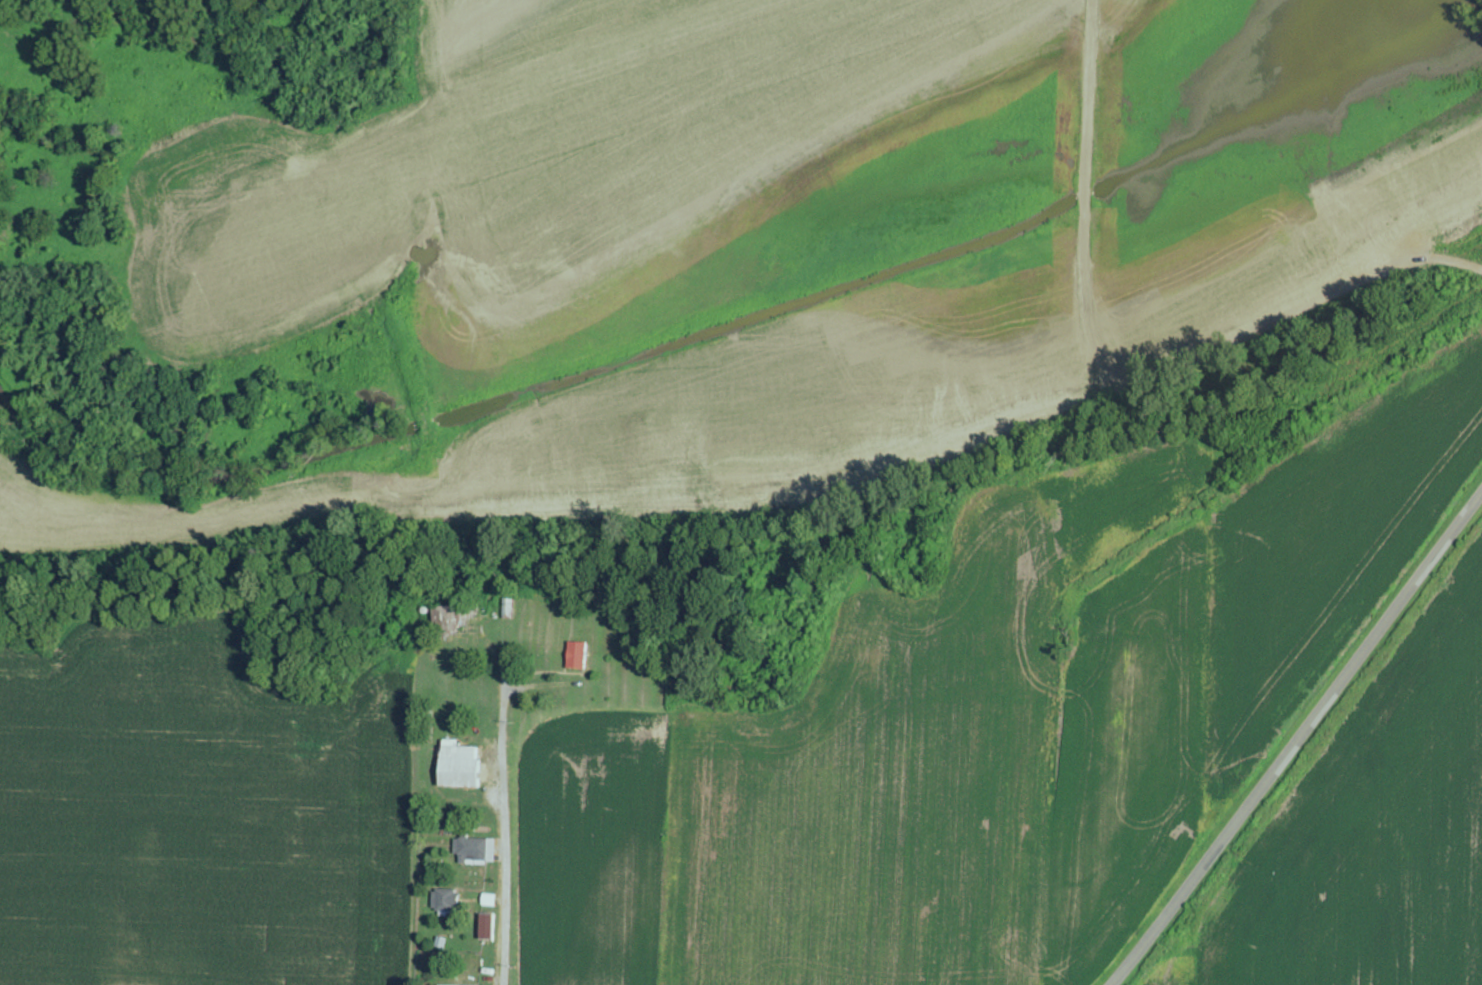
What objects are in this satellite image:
building: (580, 655)
road: (1336, 743)
building: (463, 765)
road: (533, 801)
building: (479, 850)
building: (493, 900)
building: (449, 901)
building: (491, 926)

